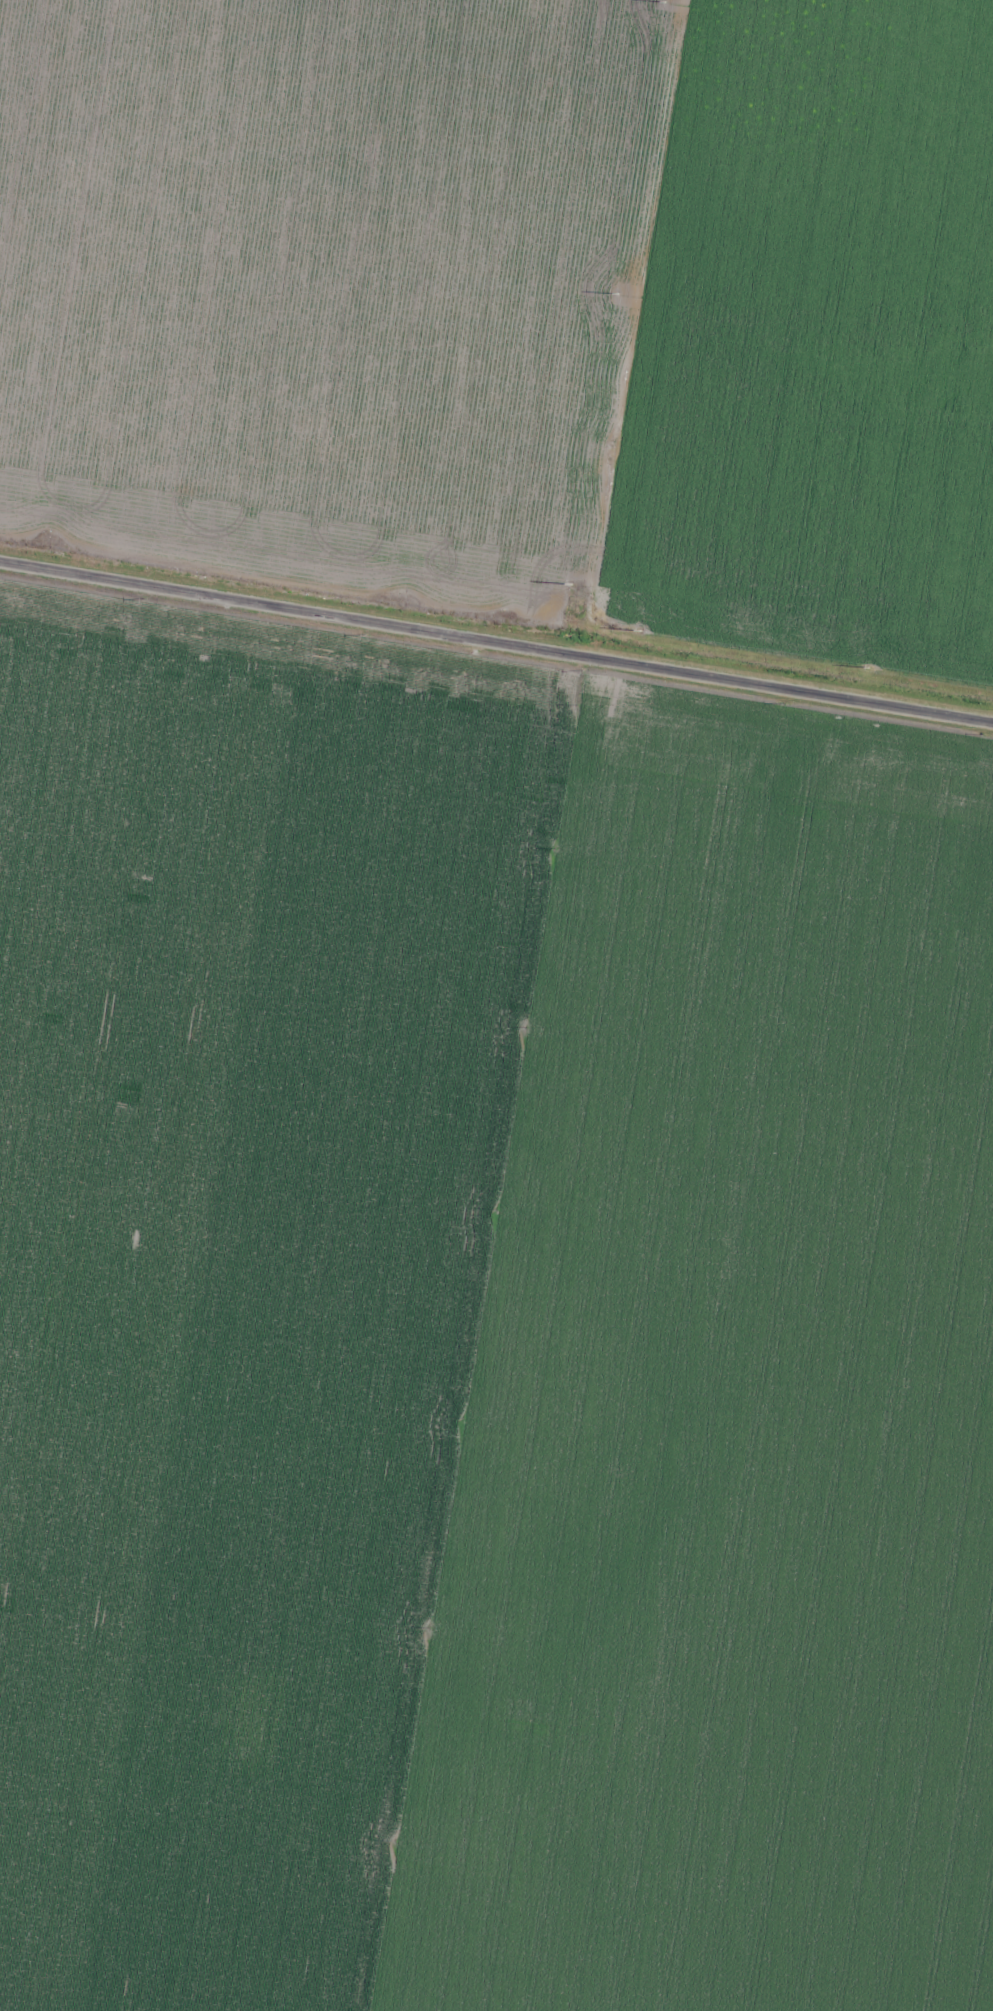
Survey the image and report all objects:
power tower: (664, 3)
building: (781, 120)
power tower: (615, 294)
power tower: (569, 585)
power tower: (639, 630)
road: (496, 641)
power tower: (867, 668)
building: (951, 1367)
building: (695, 1417)

